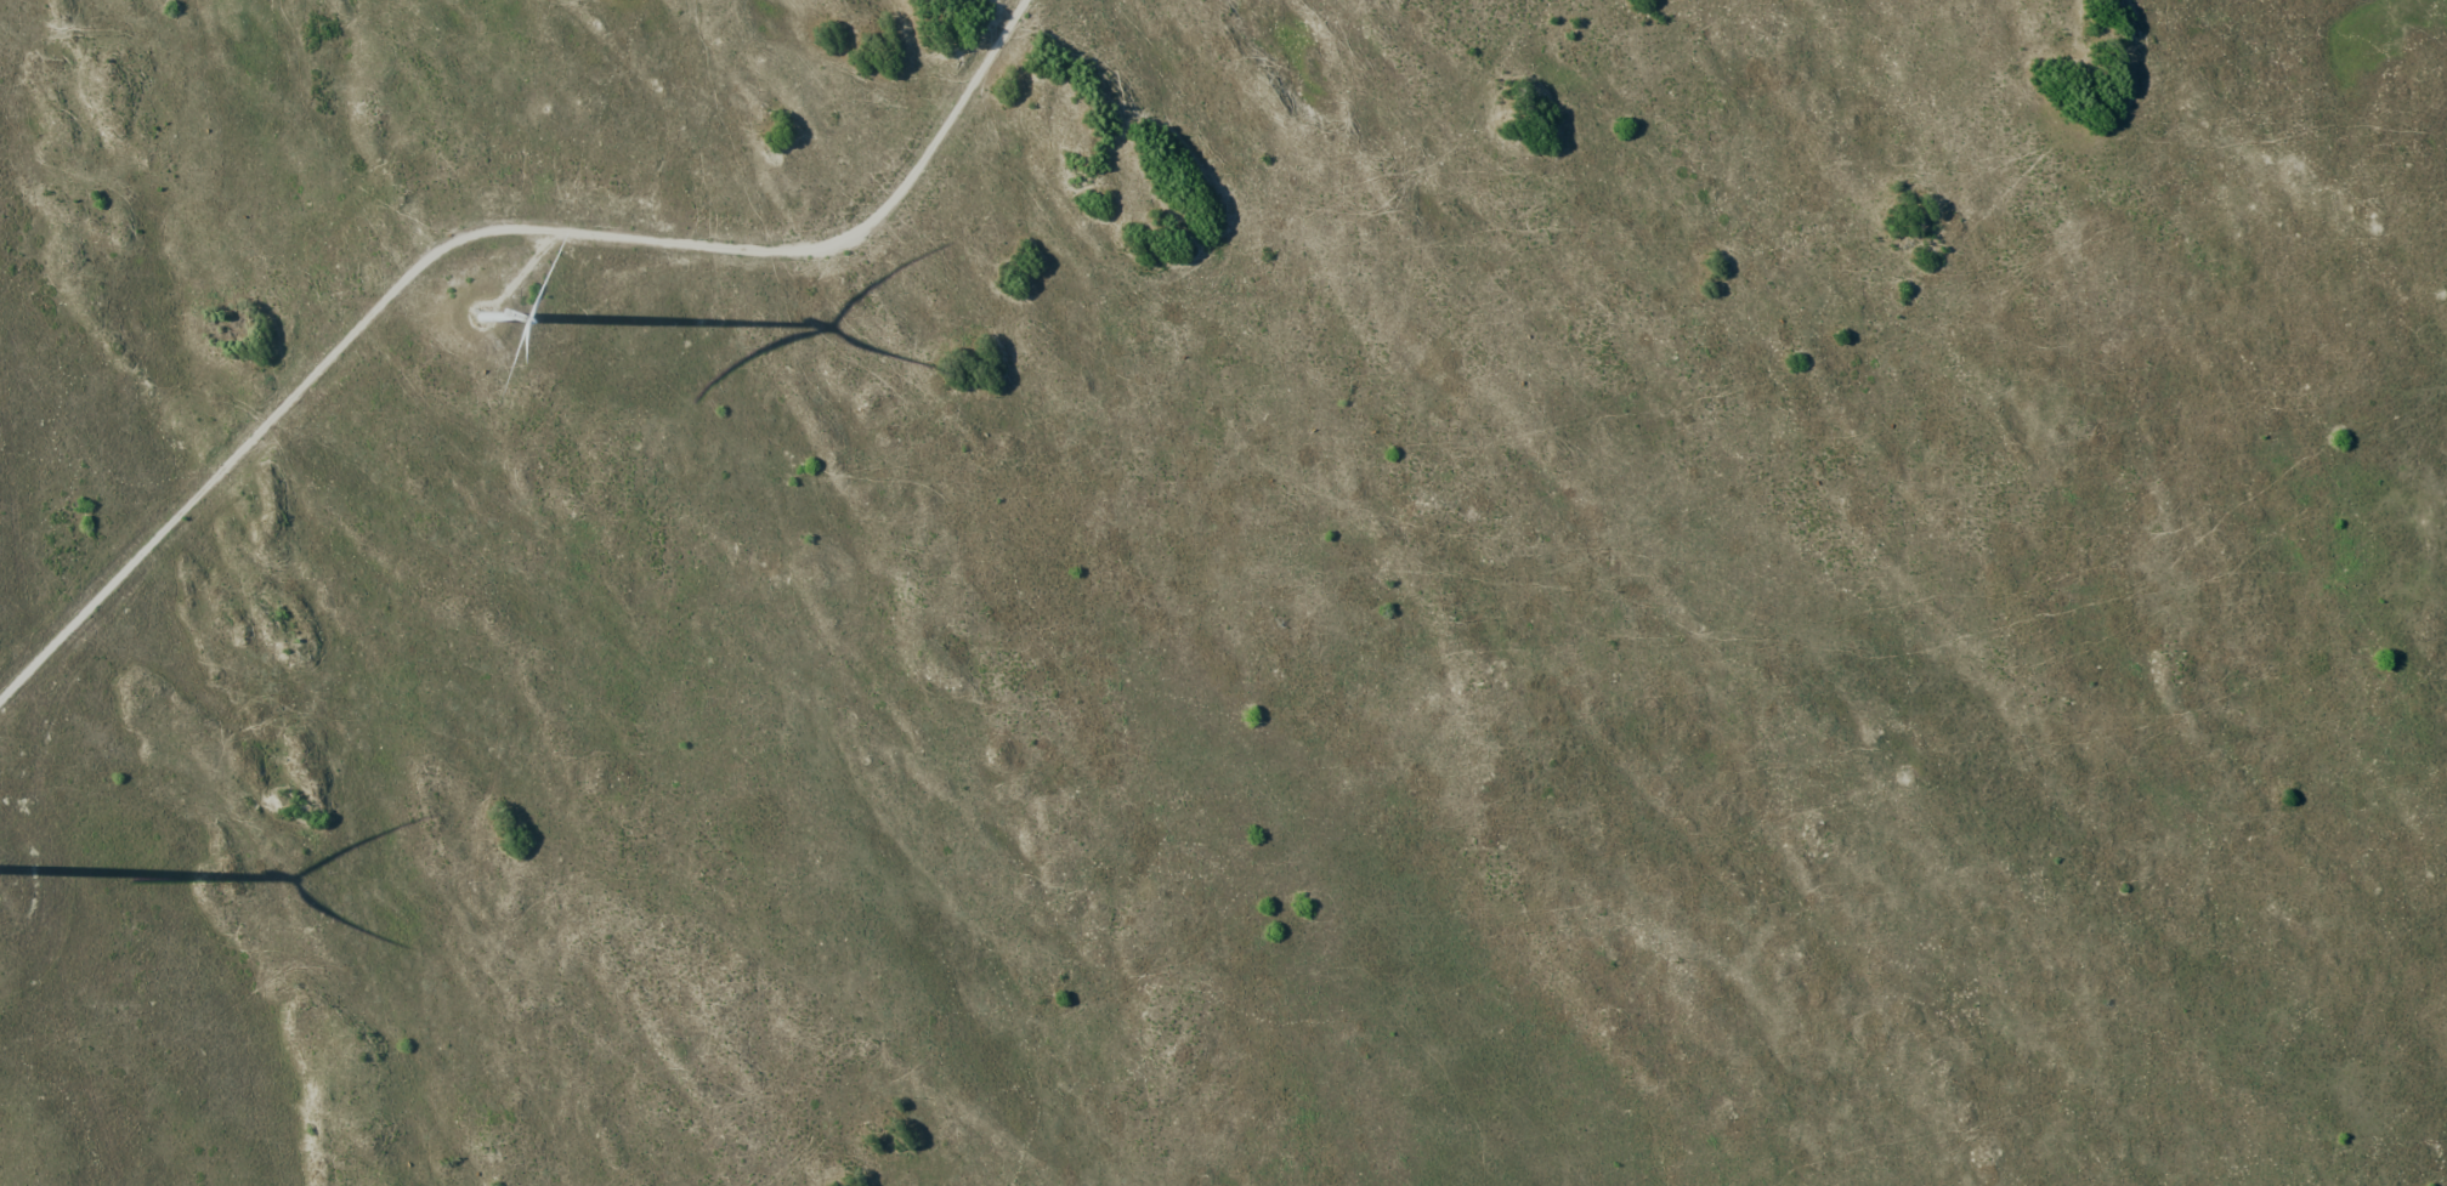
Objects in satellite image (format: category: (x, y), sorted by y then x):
wind turbine: (480, 318)
road: (261, 617)

